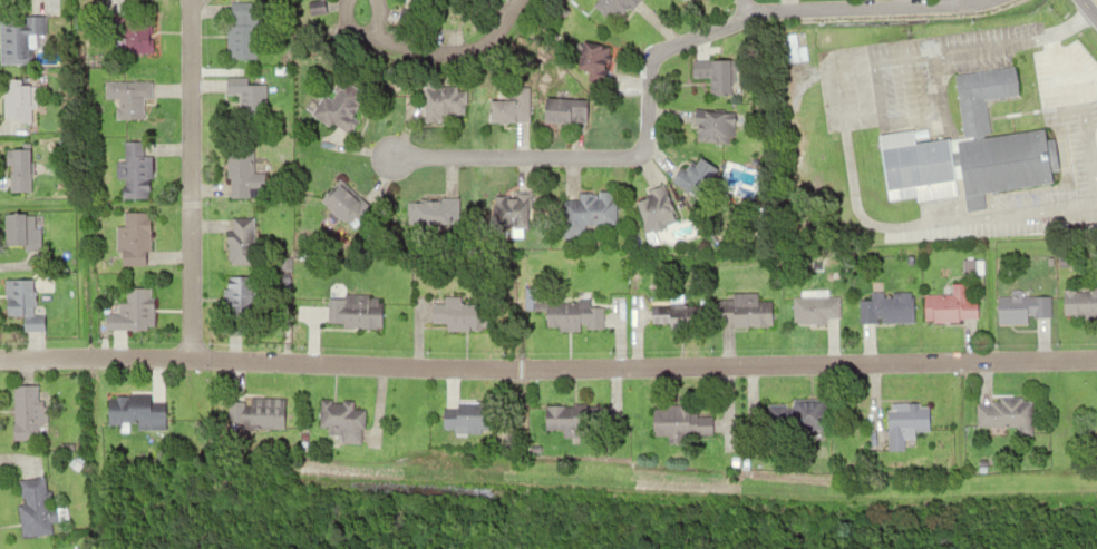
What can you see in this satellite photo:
road: (740, 7)
building: (615, 9)
road: (493, 10)
road: (1087, 11)
building: (243, 30)
building: (13, 42)
building: (136, 43)
road: (440, 52)
building: (593, 58)
road: (648, 58)
building: (721, 77)
building: (983, 86)
building: (245, 98)
building: (17, 100)
building: (445, 105)
building: (133, 108)
building: (341, 109)
building: (509, 111)
building: (567, 114)
building: (972, 121)
building: (712, 126)
building: (1004, 163)
building: (918, 167)
building: (19, 169)
building: (135, 170)
building: (246, 173)
building: (700, 178)
road: (187, 179)
building: (346, 207)
building: (513, 210)
building: (654, 210)
building: (436, 214)
building: (588, 214)
building: (20, 231)
building: (132, 236)
building: (241, 242)
building: (19, 295)
building: (239, 297)
building: (1079, 303)
building: (949, 306)
building: (137, 308)
building: (815, 308)
building: (1020, 308)
building: (353, 311)
building: (457, 311)
building: (745, 311)
building: (884, 311)
building: (676, 313)
building: (571, 314)
building: (32, 323)
road: (547, 365)
building: (135, 410)
building: (23, 412)
building: (268, 413)
building: (796, 413)
building: (466, 415)
building: (1002, 415)
building: (341, 418)
building: (906, 419)
building: (681, 421)
building: (561, 427)
building: (33, 506)

